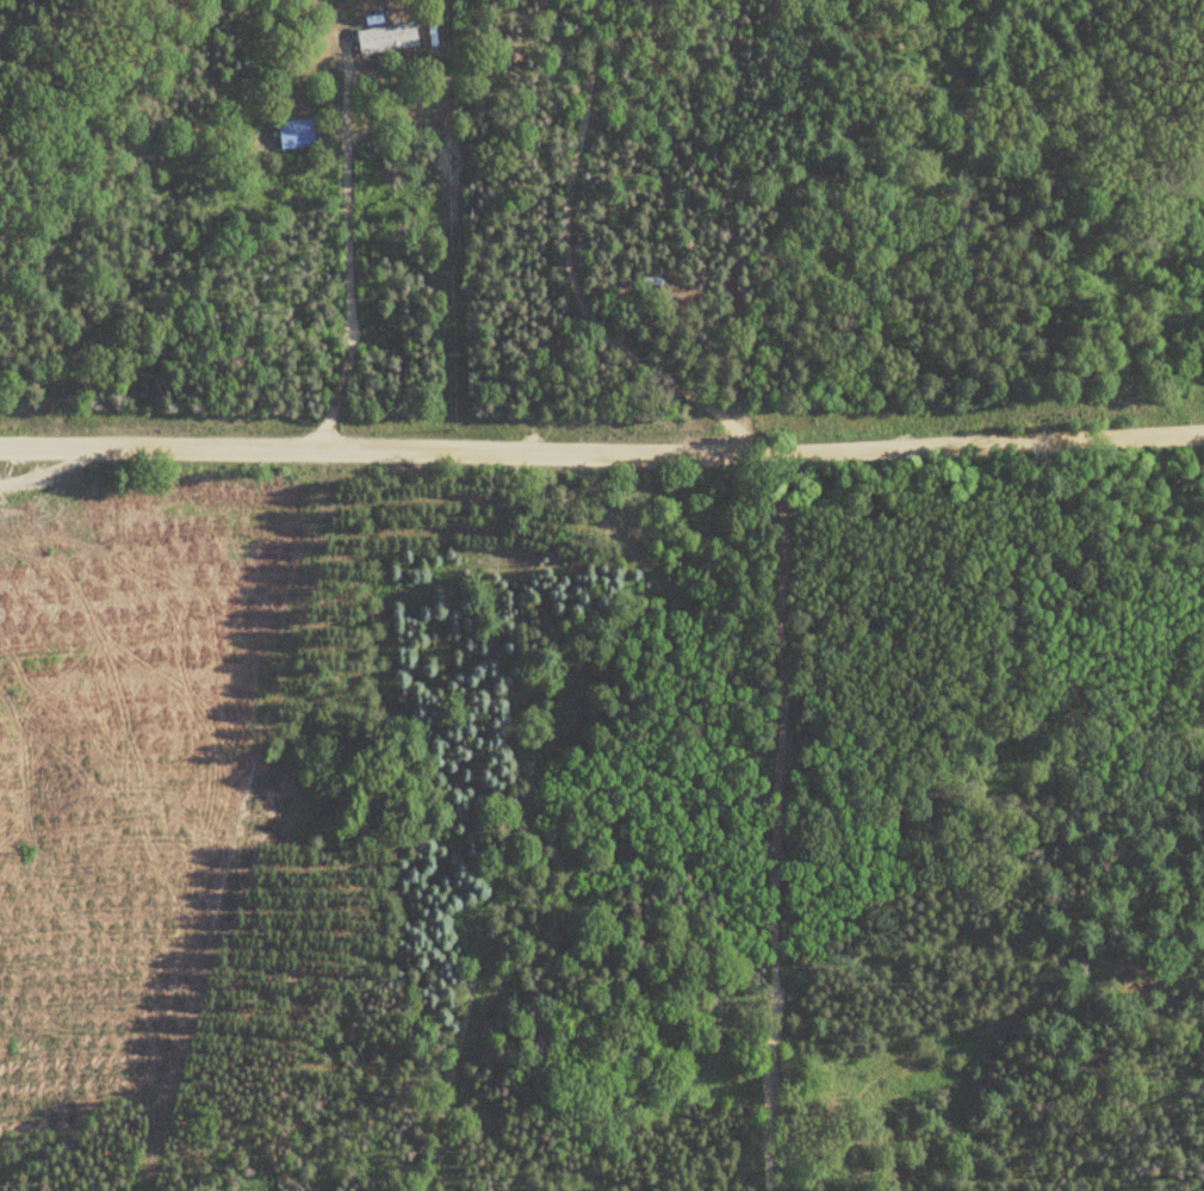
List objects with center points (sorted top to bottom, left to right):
building: (383, 37)
road: (602, 448)

